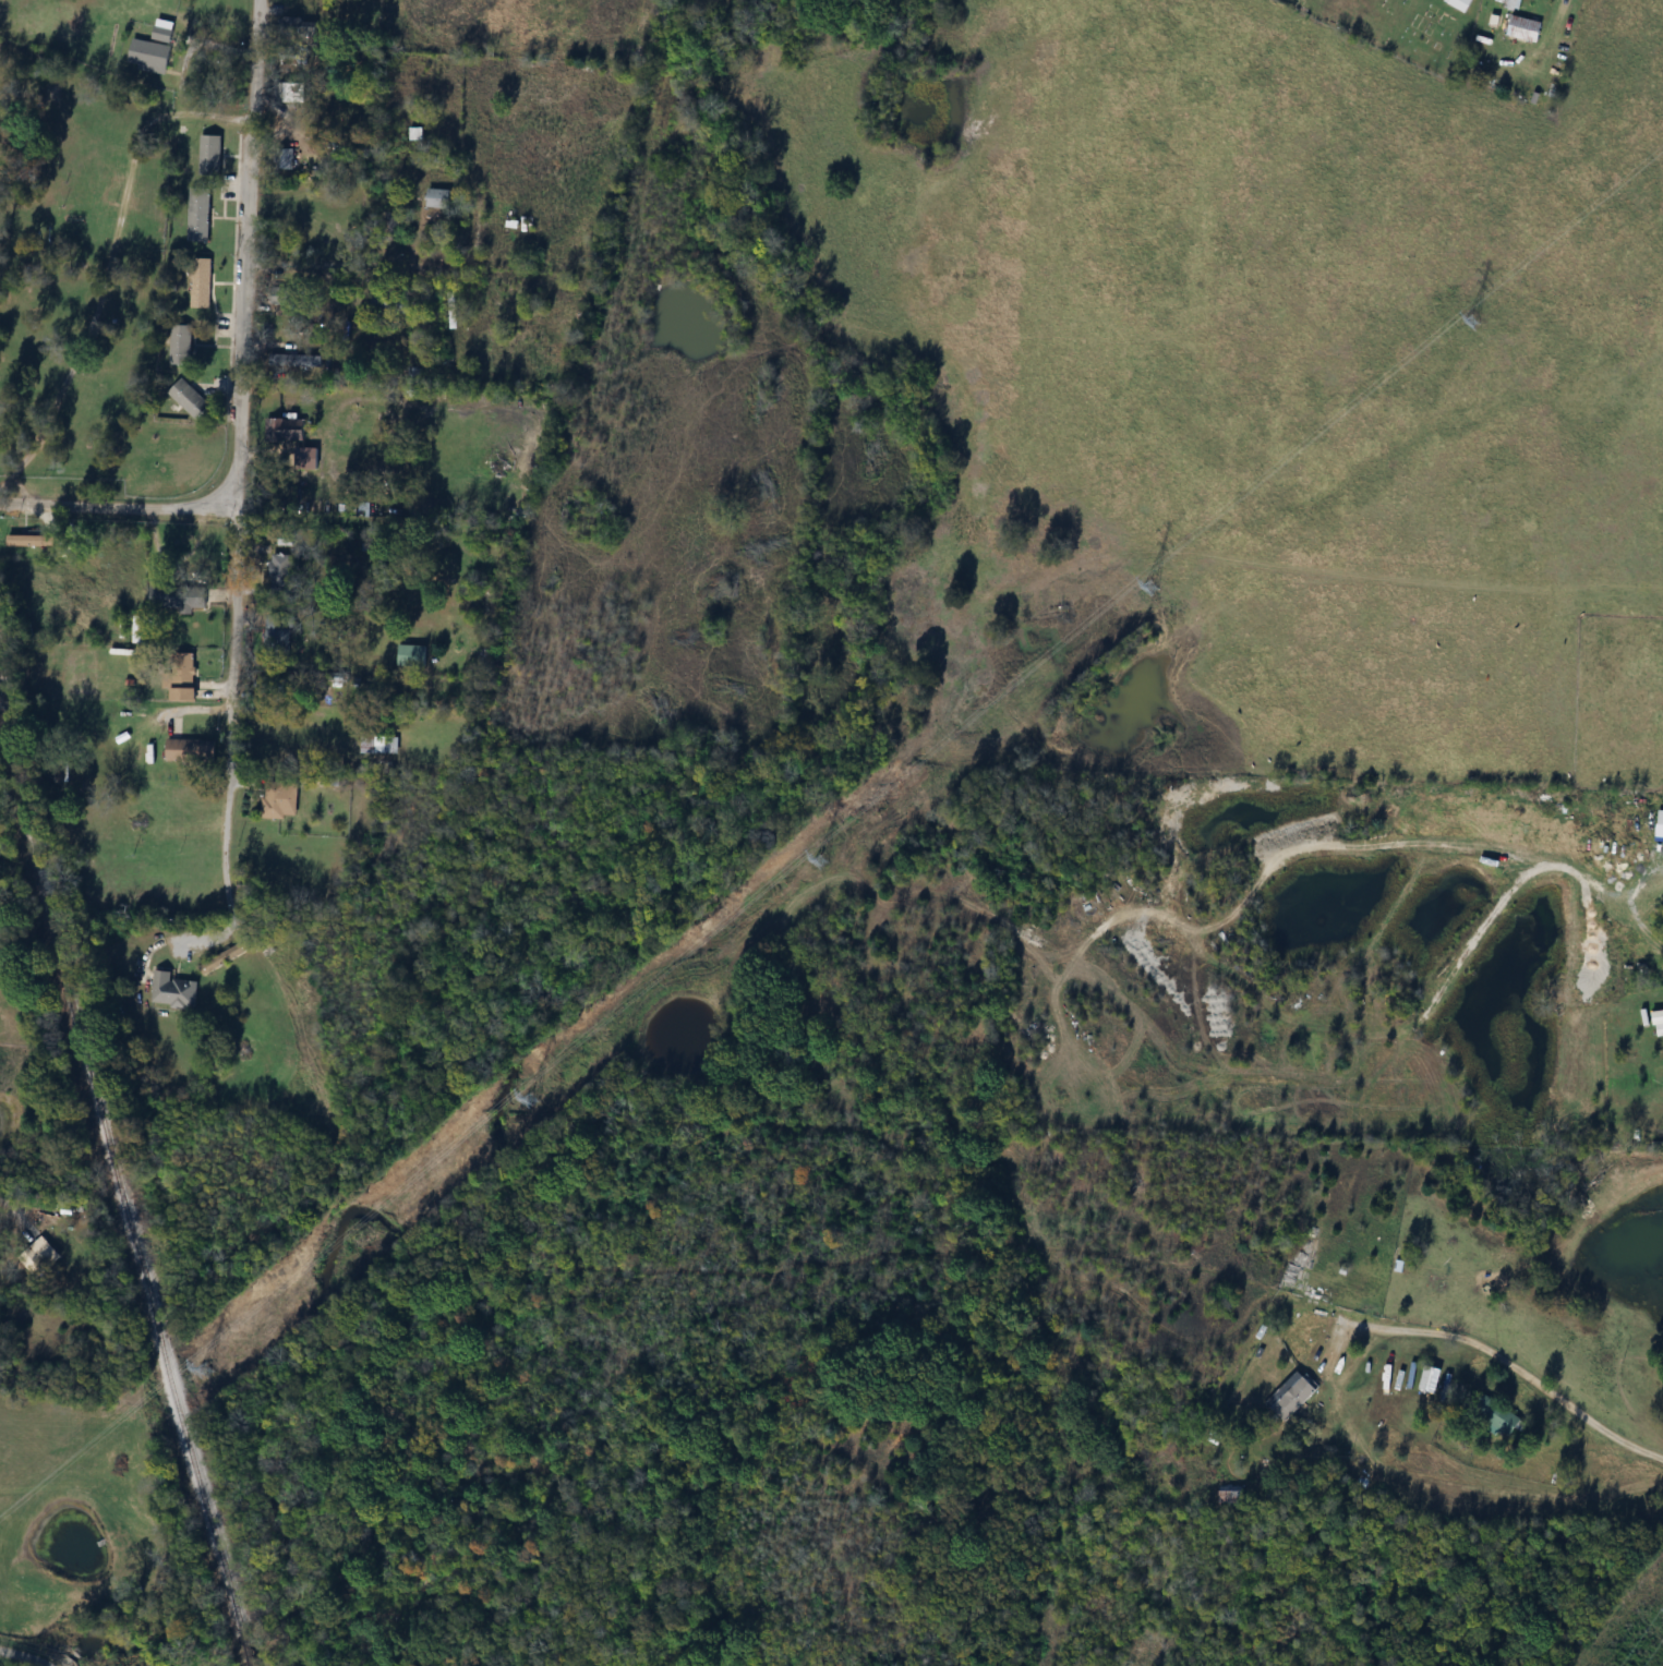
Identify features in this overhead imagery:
building: (1459, 3)
building: (1511, 4)
building: (285, 9)
road: (1559, 15)
building: (287, 25)
park: (1401, 28)
building: (1525, 29)
building: (153, 51)
building: (293, 96)
building: (415, 133)
building: (210, 154)
building: (288, 159)
building: (438, 198)
building: (198, 227)
road: (421, 265)
building: (201, 282)
building: (282, 295)
building: (389, 301)
power tower: (1475, 318)
road: (81, 343)
building: (181, 345)
building: (297, 360)
building: (190, 399)
building: (288, 431)
road: (239, 439)
road: (120, 508)
building: (32, 541)
building: (276, 567)
power tower: (1153, 584)
building: (179, 597)
building: (276, 631)
building: (412, 655)
building: (180, 677)
building: (379, 743)
building: (188, 749)
building: (280, 799)
building: (1660, 818)
power tower: (827, 856)
road: (225, 929)
building: (225, 958)
building: (173, 991)
building: (1660, 1028)
power tower: (539, 1092)
railway: (109, 1175)
road: (7, 1197)
building: (39, 1257)
power tower: (208, 1366)
building: (1429, 1379)
building: (1293, 1399)
road: (1558, 1399)
building: (1494, 1418)
building: (1229, 1497)
road: (23, 1657)

